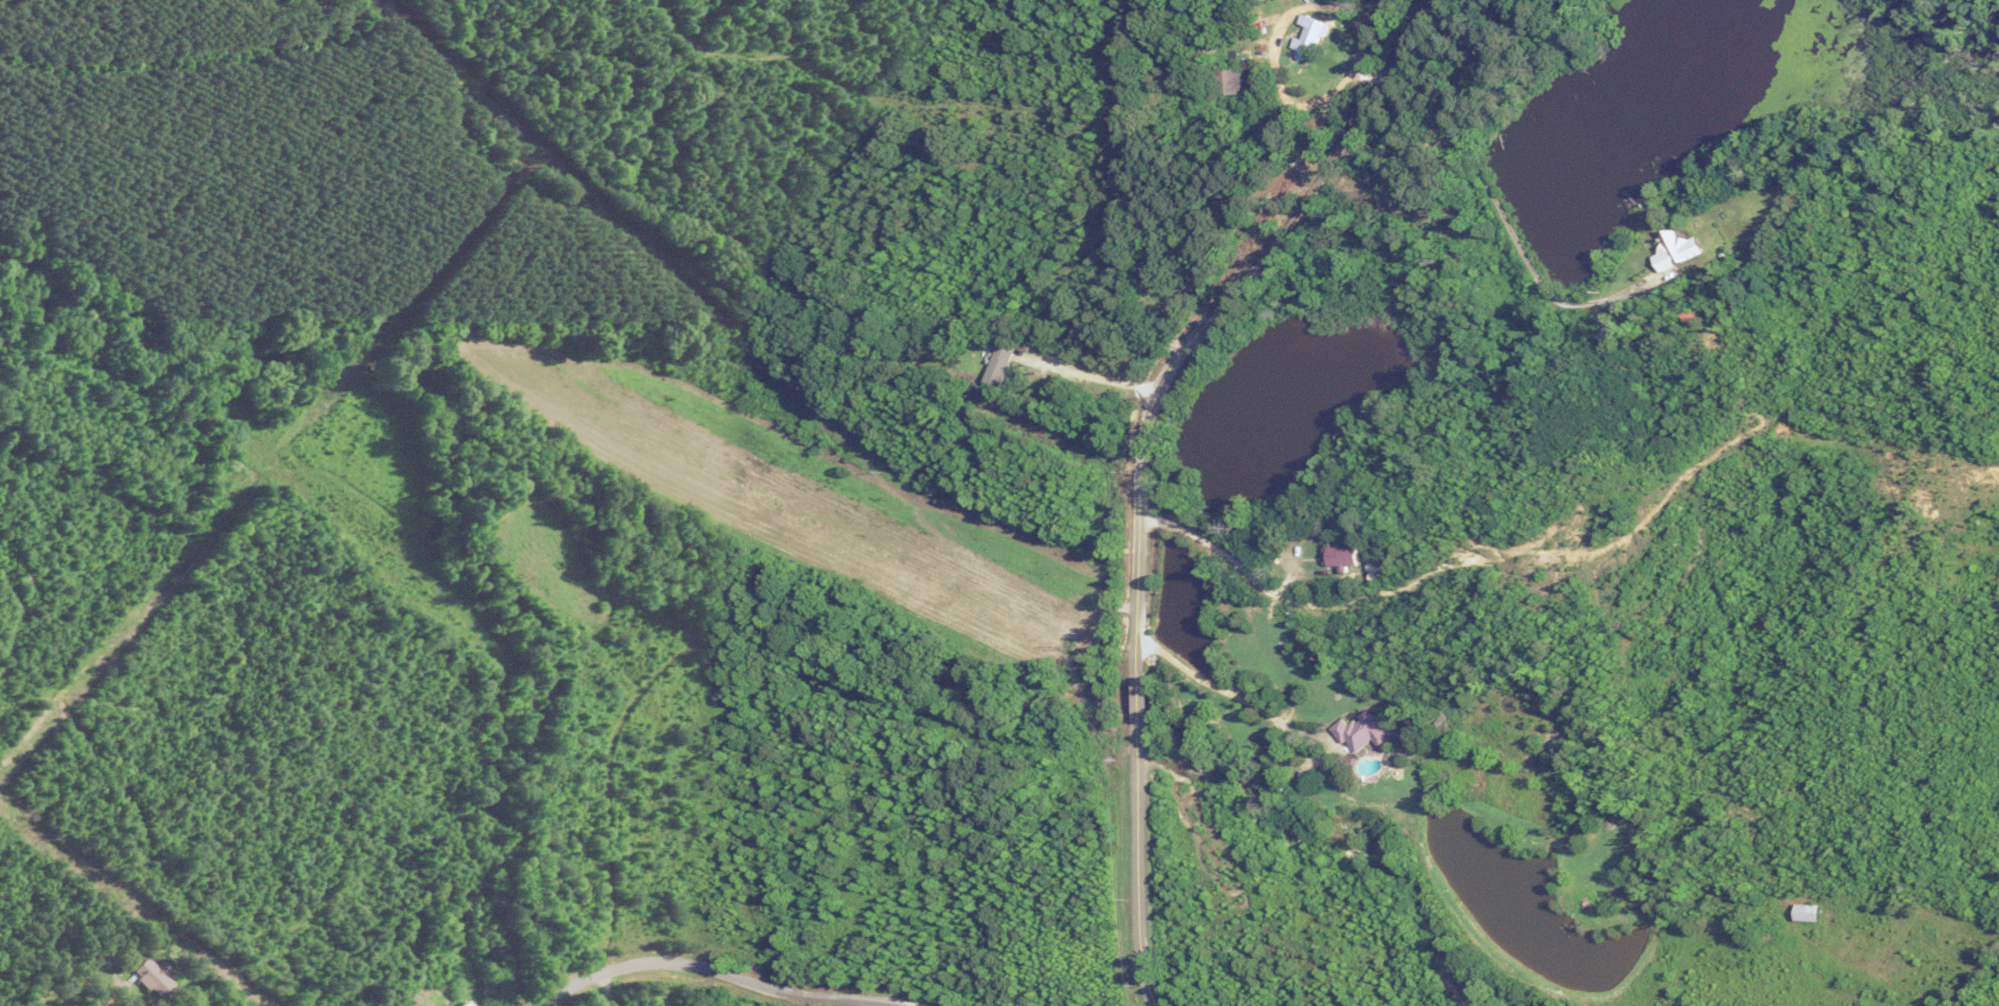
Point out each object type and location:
building: (1308, 36)
road: (1268, 47)
building: (1226, 81)
road: (1504, 227)
building: (1156, 257)
road: (1212, 315)
building: (998, 362)
road: (1082, 376)
building: (1341, 556)
road: (1233, 564)
road: (1136, 710)
road: (1263, 715)
building: (1360, 731)
building: (1549, 739)
road: (1134, 878)
road: (717, 974)
building: (151, 975)
road: (109, 996)
building: (440, 1001)

